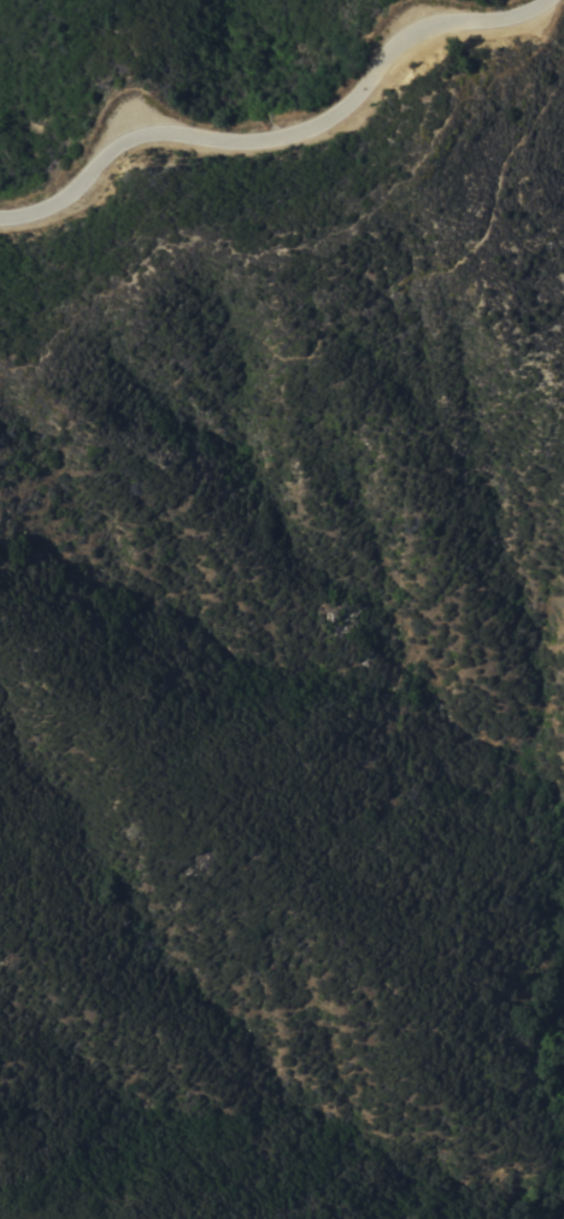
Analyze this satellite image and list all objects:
road: (280, 131)
road: (434, 274)

